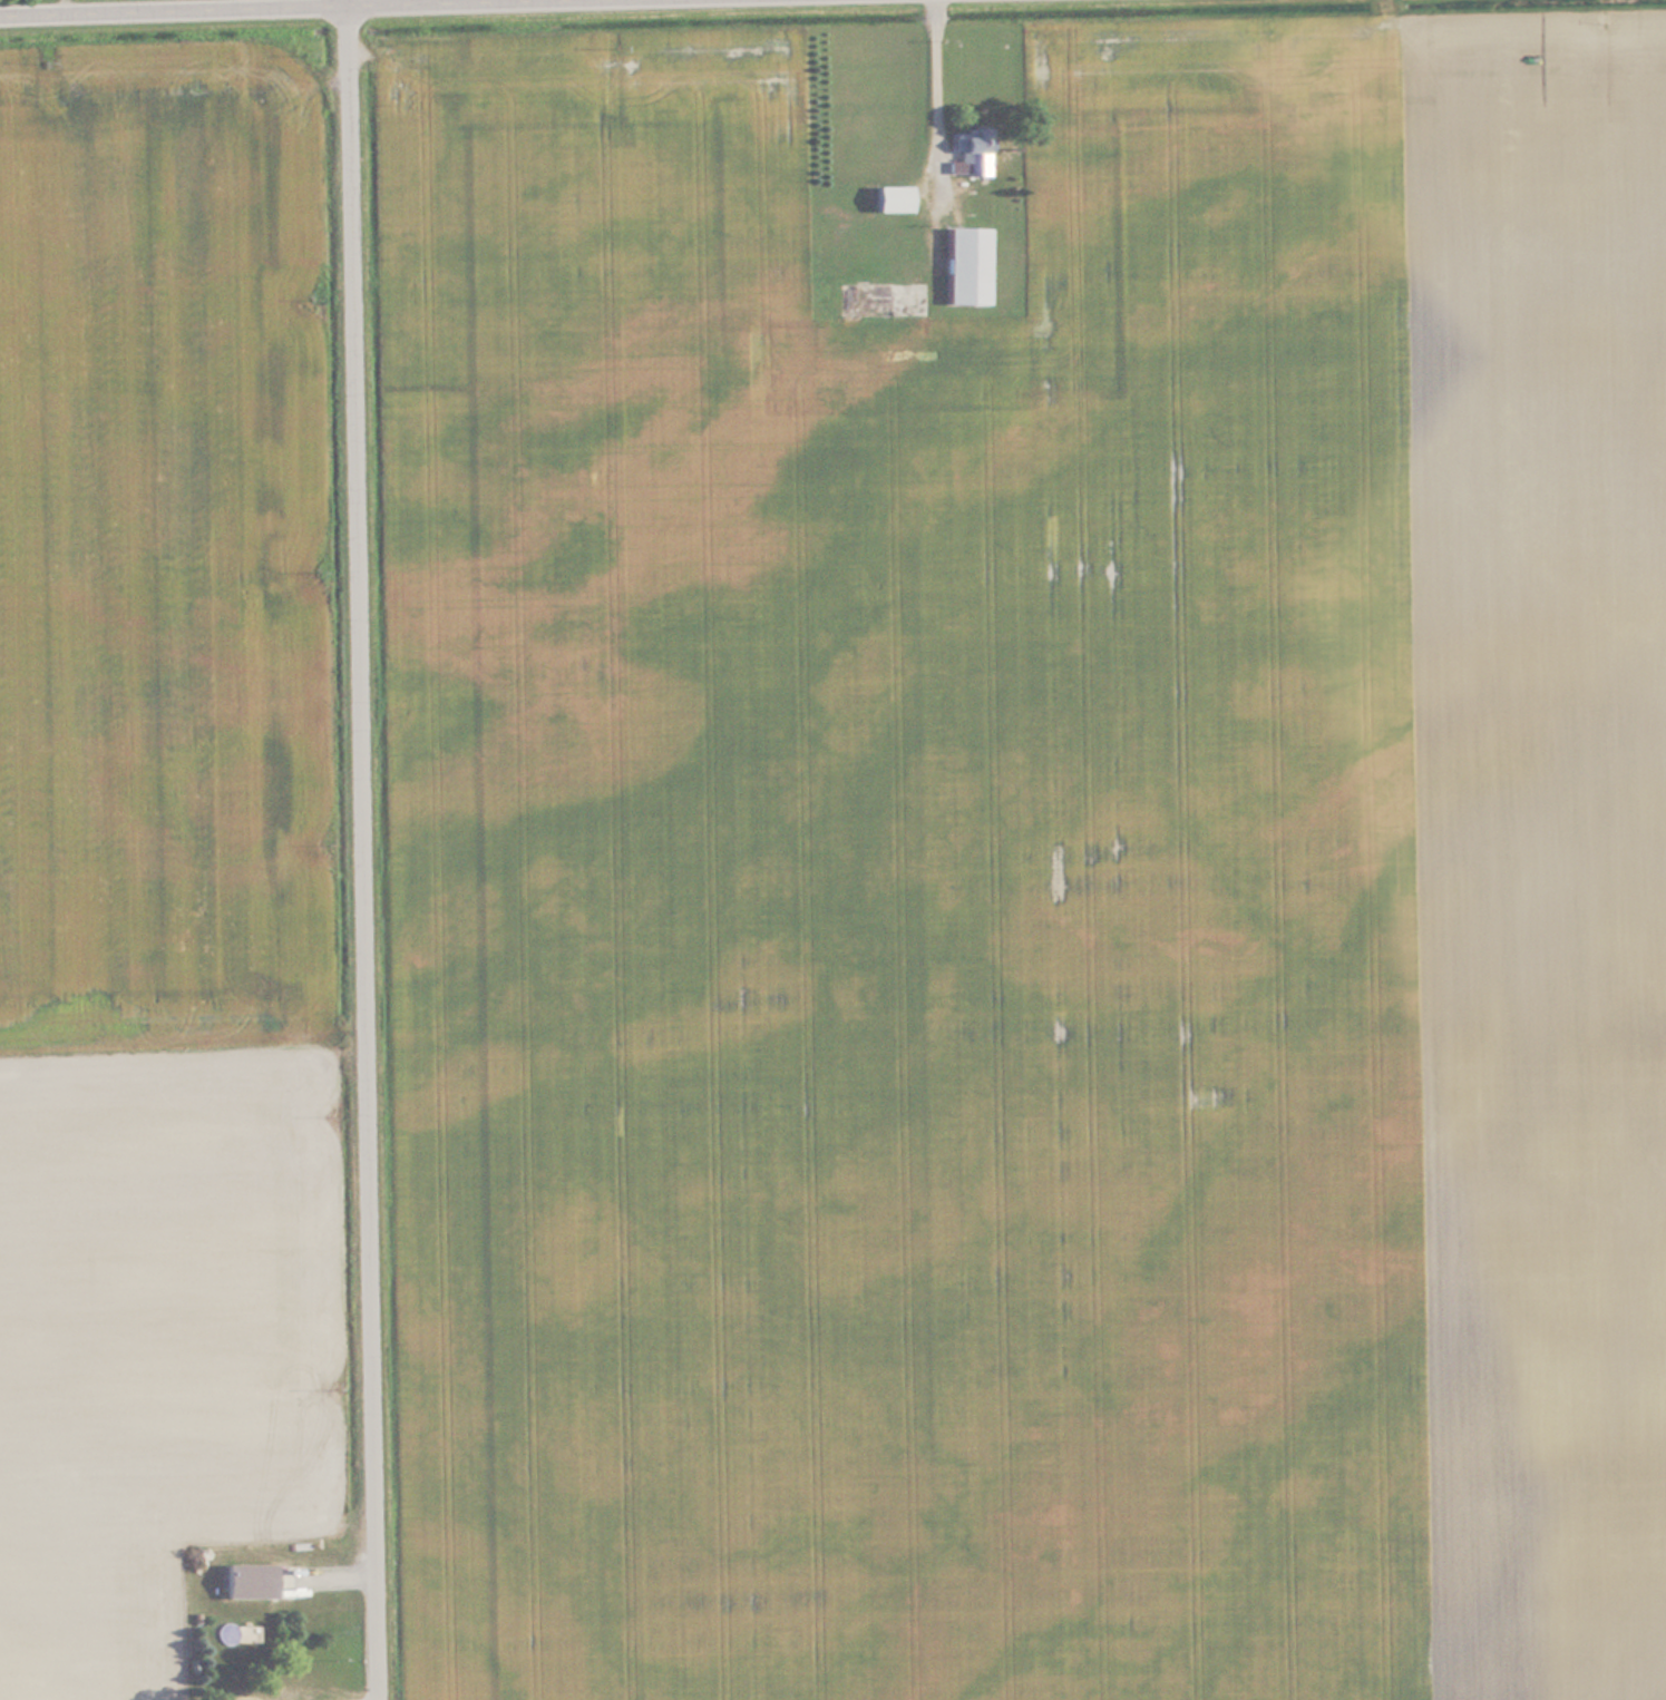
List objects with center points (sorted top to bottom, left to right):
road: (205, 6)
building: (970, 152)
building: (892, 198)
building: (966, 265)
road: (370, 850)
building: (249, 1580)

